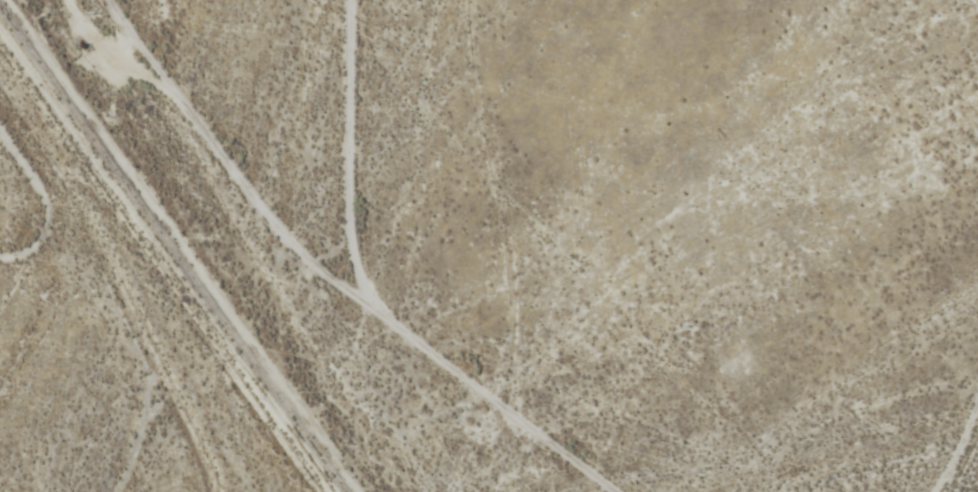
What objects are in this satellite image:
road: (350, 153)
road: (233, 160)
road: (496, 397)
road: (957, 452)

